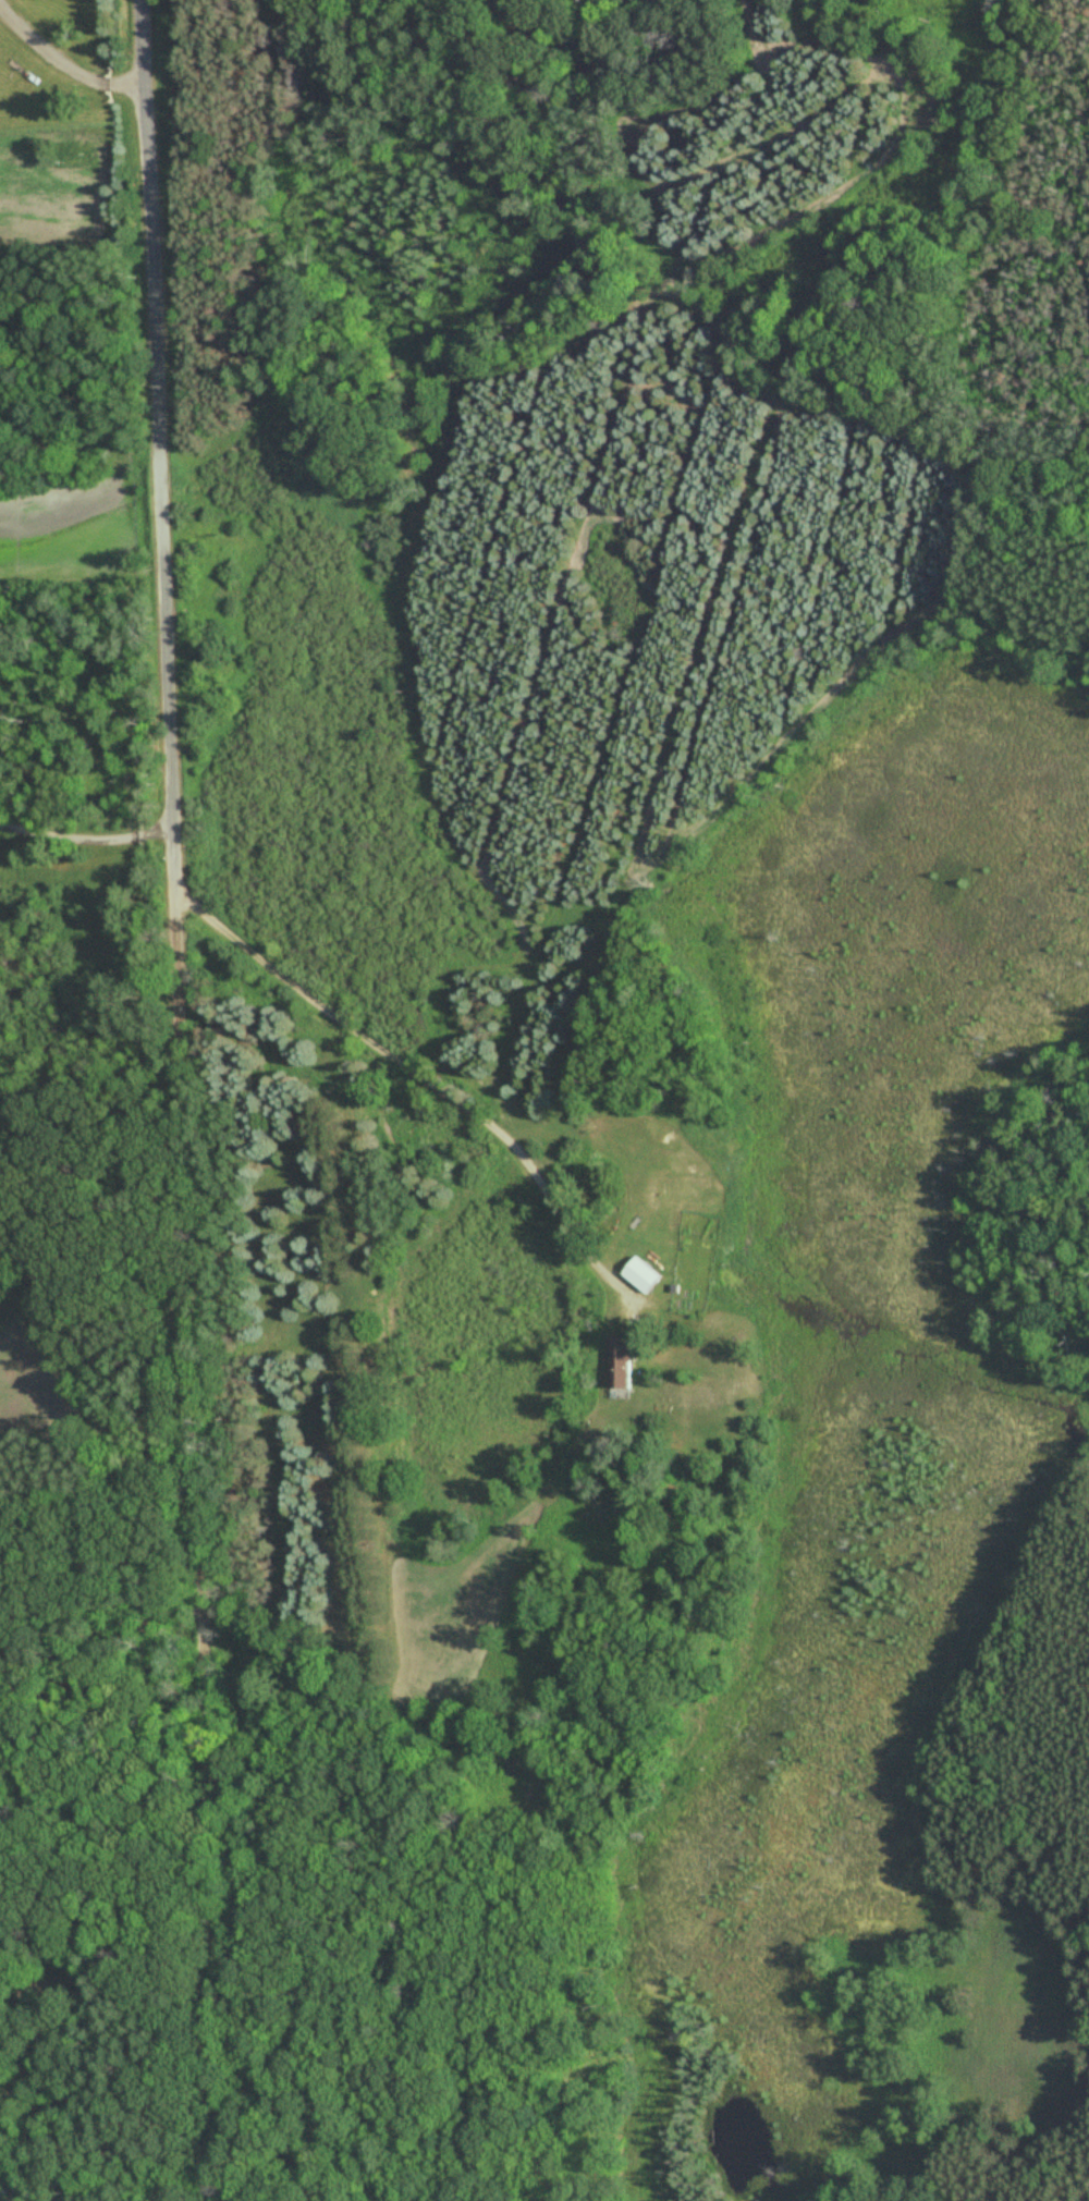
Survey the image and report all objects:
road: (66, 62)
road: (88, 837)
road: (425, 1077)
road: (181, 1101)
building: (640, 1274)
building: (620, 1364)

